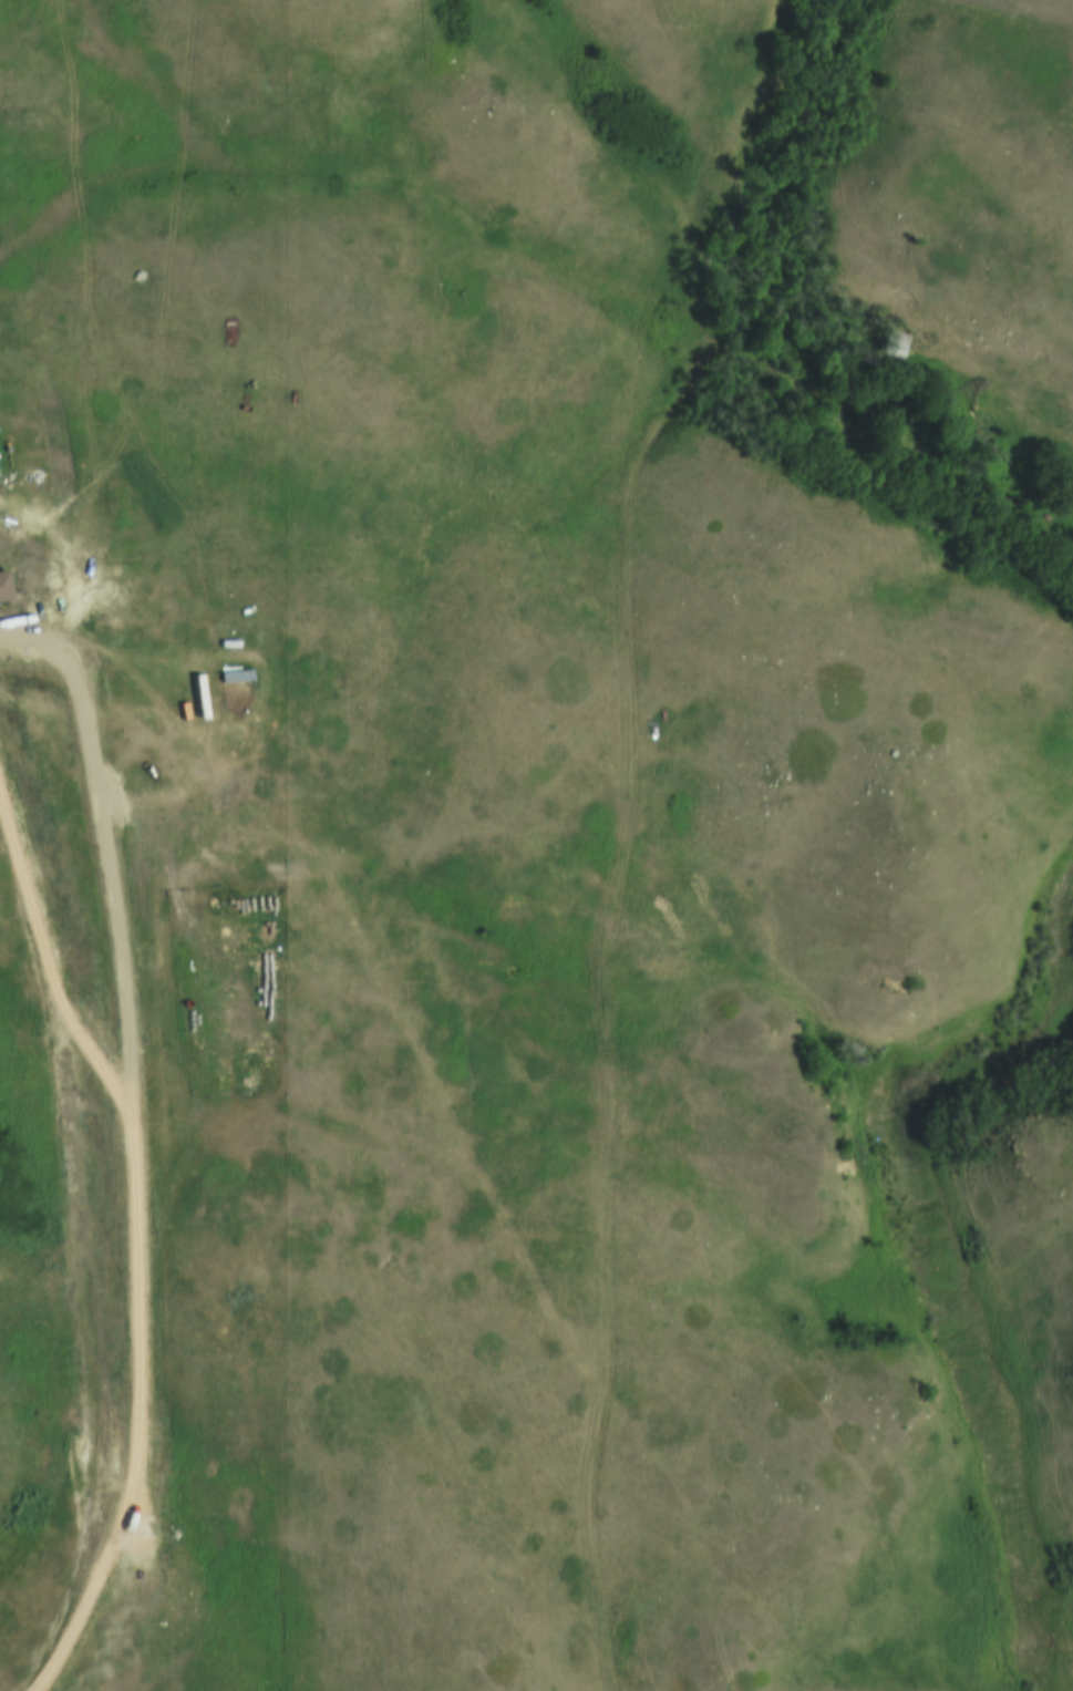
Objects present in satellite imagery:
building: (889, 340)
building: (1, 591)
building: (79, 674)
building: (14, 744)
road: (606, 999)
road: (76, 1245)

